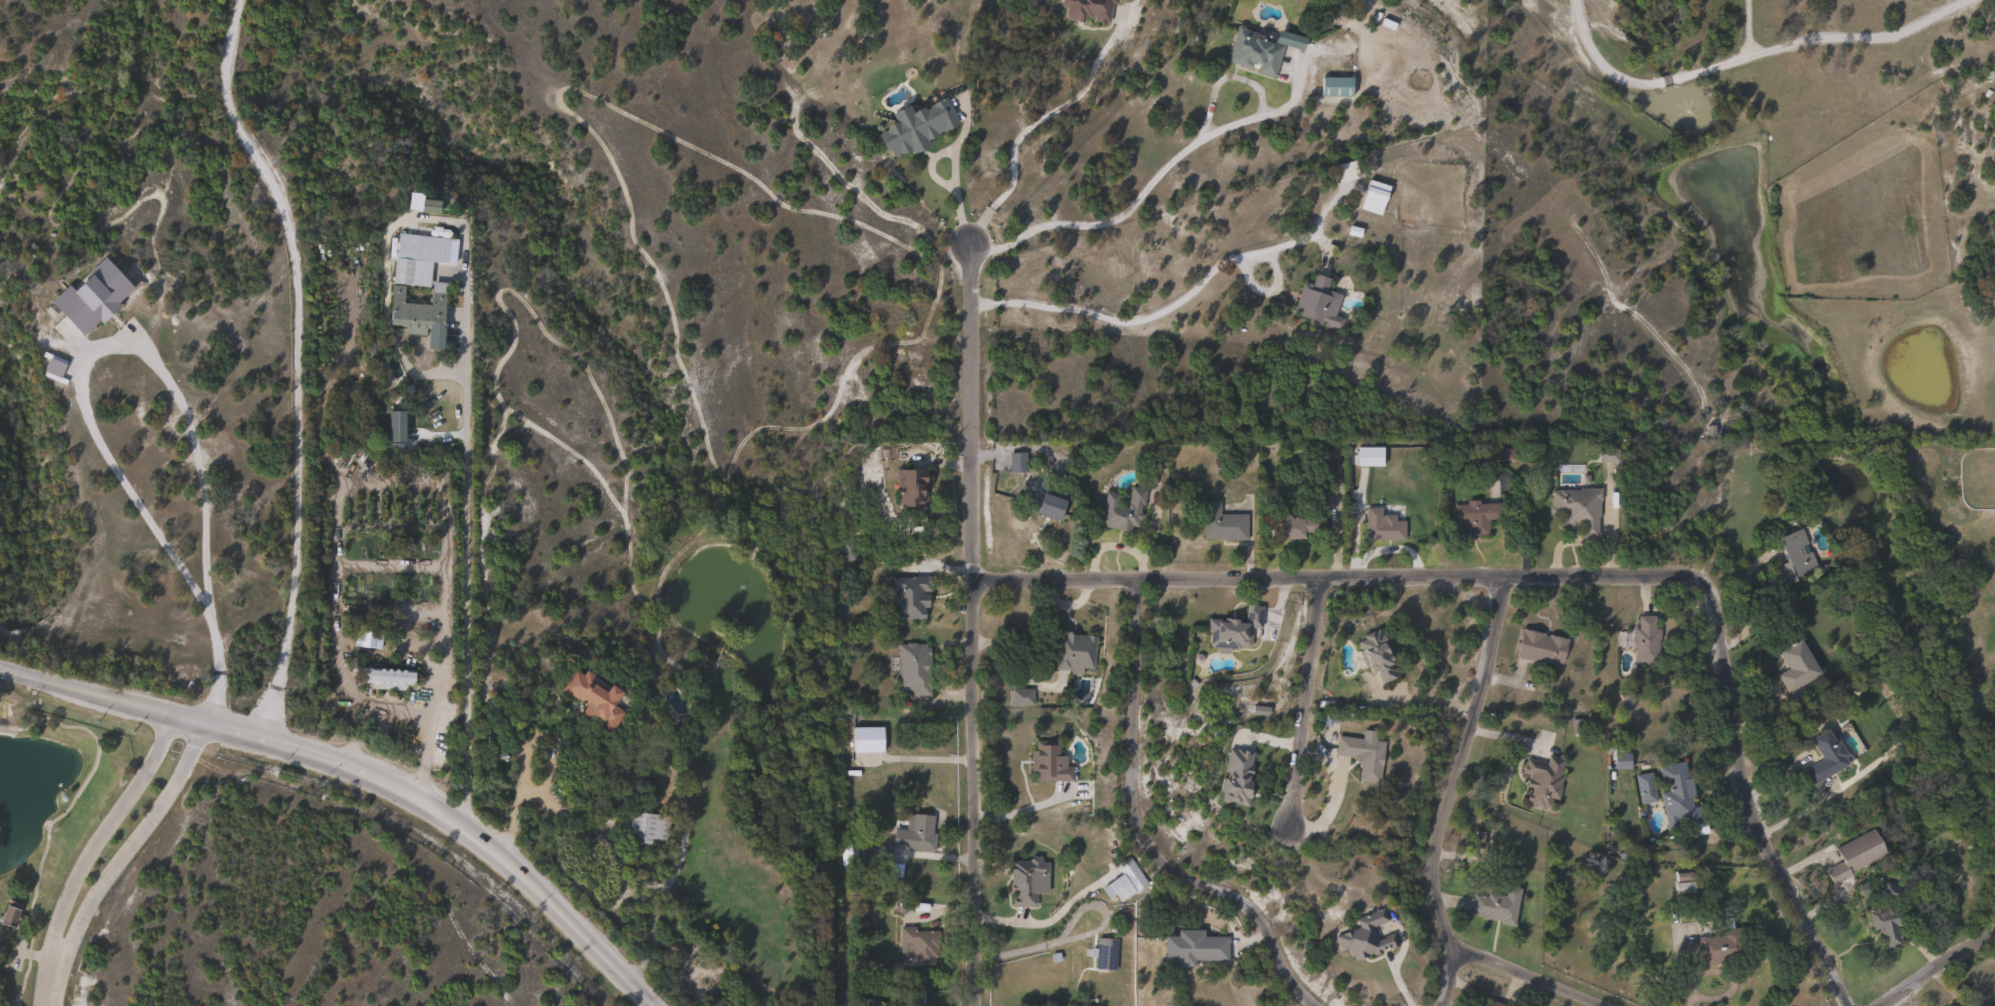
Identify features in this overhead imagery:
building: (1092, 9)
road: (1747, 27)
road: (1821, 38)
building: (1252, 50)
road: (1596, 59)
road: (1665, 80)
building: (1334, 85)
building: (1990, 100)
road: (1031, 124)
building: (912, 125)
road: (1172, 159)
building: (1342, 170)
road: (951, 172)
building: (1371, 196)
building: (436, 295)
building: (89, 299)
building: (1316, 303)
road: (1168, 307)
road: (156, 356)
road: (296, 363)
road: (968, 414)
building: (1366, 455)
building: (1606, 456)
building: (1016, 462)
building: (914, 488)
building: (1042, 503)
building: (1575, 509)
building: (1120, 511)
building: (1472, 518)
building: (1220, 524)
building: (1295, 526)
building: (1380, 526)
building: (845, 550)
building: (1792, 557)
road: (465, 570)
road: (1565, 574)
building: (908, 596)
building: (1232, 630)
building: (1646, 641)
building: (1538, 648)
building: (1077, 651)
building: (1373, 656)
building: (917, 667)
building: (1795, 667)
building: (391, 679)
building: (1026, 696)
building: (593, 698)
road: (1307, 700)
building: (850, 705)
road: (232, 730)
building: (871, 738)
building: (1361, 755)
building: (1617, 755)
building: (1824, 758)
building: (1052, 761)
building: (1541, 779)
building: (1645, 788)
road: (1334, 789)
road: (1450, 791)
road: (970, 793)
building: (1677, 795)
road: (511, 804)
road: (103, 826)
building: (649, 828)
road: (1146, 833)
building: (919, 834)
road: (136, 839)
building: (851, 853)
building: (1853, 854)
building: (897, 870)
building: (1023, 878)
building: (1124, 880)
building: (1683, 888)
building: (1495, 904)
road: (558, 909)
building: (12, 915)
road: (1035, 923)
building: (1886, 926)
building: (1364, 936)
building: (921, 945)
building: (1191, 949)
building: (1705, 949)
building: (1105, 953)
road: (1935, 964)
road: (1528, 974)
road: (53, 978)
building: (920, 998)
building: (1492, 1003)

